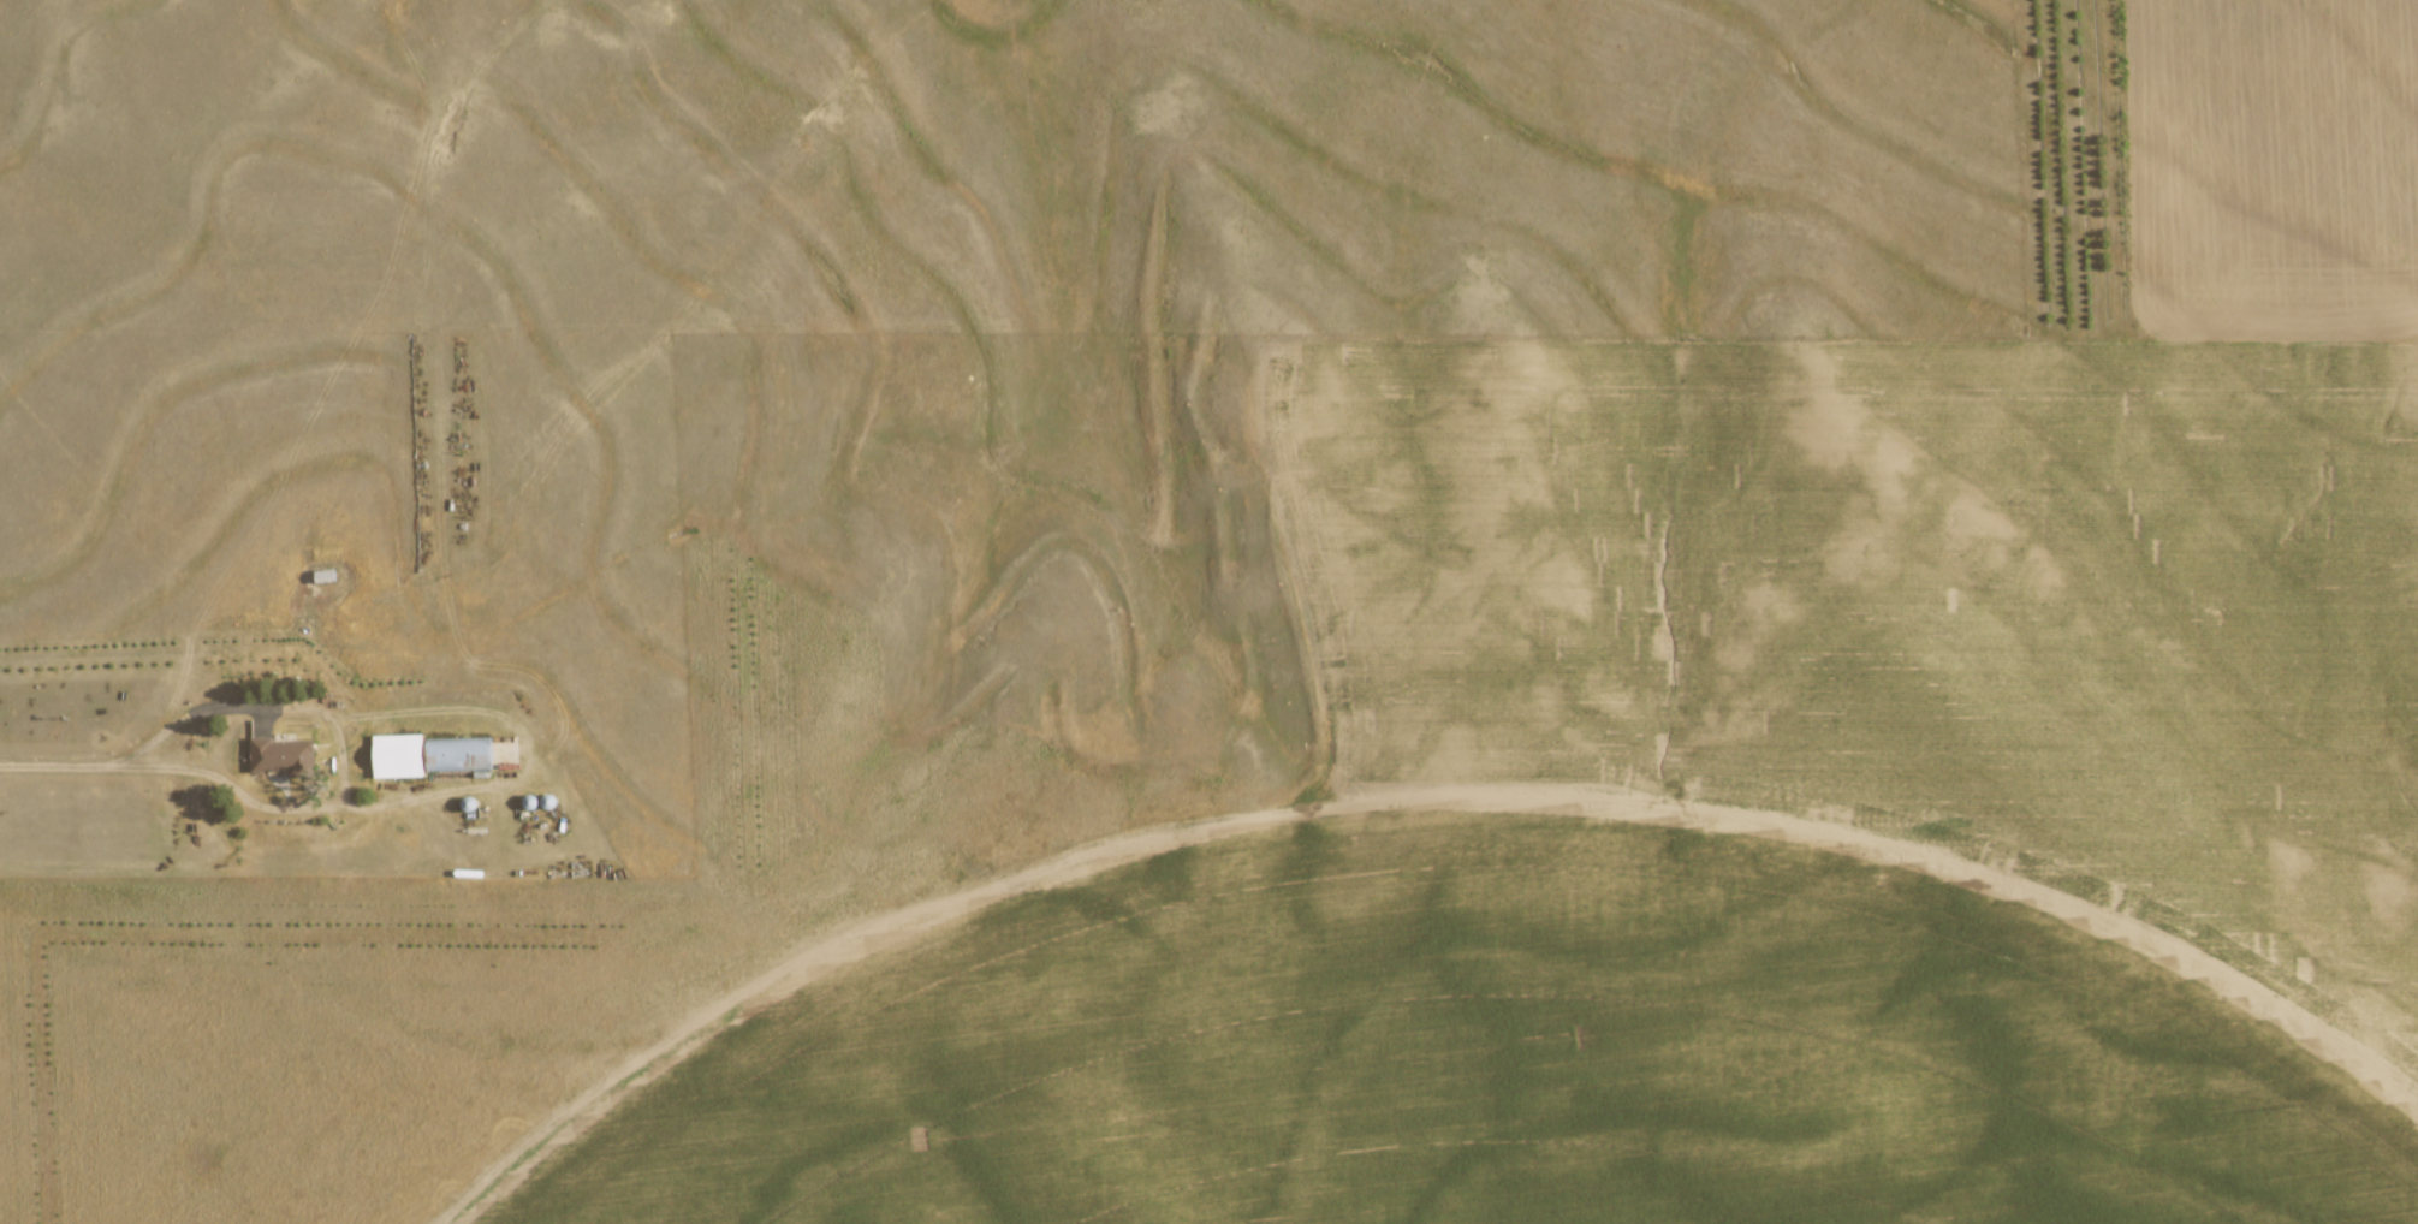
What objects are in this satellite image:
building: (323, 574)
road: (331, 718)
building: (280, 753)
building: (458, 753)
road: (54, 768)

